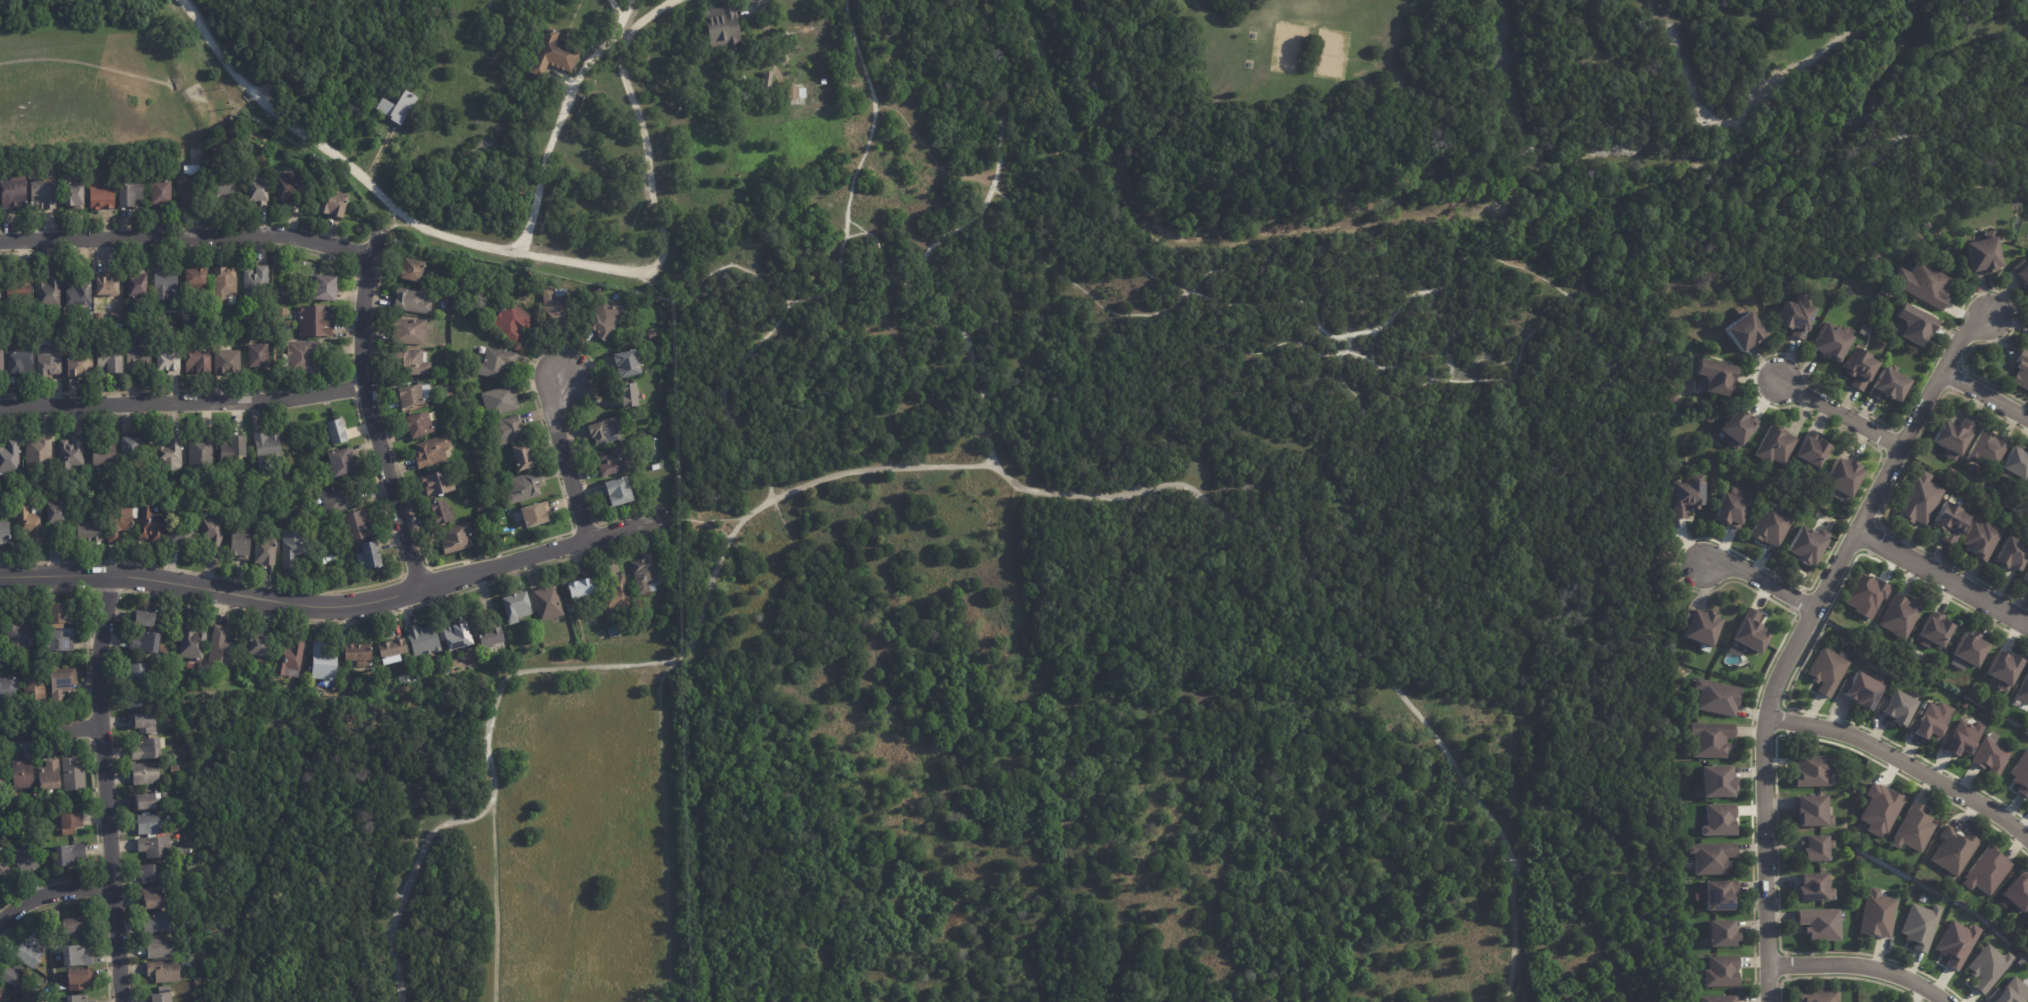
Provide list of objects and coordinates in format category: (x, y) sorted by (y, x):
road: (615, 11)
road: (624, 12)
road: (645, 18)
building: (724, 28)
road: (617, 30)
road: (105, 44)
road: (292, 49)
park: (1311, 52)
building: (554, 56)
building: (740, 77)
park: (107, 78)
building: (767, 85)
building: (794, 96)
building: (398, 104)
road: (1740, 111)
building: (244, 143)
road: (645, 157)
road: (544, 167)
road: (1058, 173)
building: (187, 185)
building: (225, 187)
building: (258, 190)
building: (291, 190)
building: (161, 191)
building: (13, 194)
building: (74, 194)
building: (101, 194)
building: (130, 194)
building: (42, 195)
road: (380, 198)
building: (333, 203)
building: (1928, 224)
road: (388, 227)
road: (1024, 233)
road: (187, 236)
road: (940, 240)
road: (1379, 250)
road: (880, 252)
building: (1982, 253)
building: (1876, 257)
road: (839, 268)
building: (413, 270)
building: (2023, 275)
building: (255, 279)
building: (196, 280)
building: (137, 284)
building: (165, 284)
building: (224, 284)
building: (1922, 284)
building: (19, 286)
building: (107, 286)
building: (325, 288)
building: (49, 292)
building: (287, 292)
building: (79, 294)
building: (448, 294)
road: (705, 300)
building: (412, 301)
building: (447, 302)
building: (555, 303)
building: (282, 312)
building: (1792, 315)
building: (604, 321)
building: (314, 322)
building: (513, 322)
building: (1912, 324)
building: (409, 331)
building: (1743, 331)
building: (651, 335)
building: (1830, 344)
building: (137, 354)
building: (301, 356)
building: (49, 357)
building: (258, 357)
building: (198, 360)
building: (108, 362)
building: (227, 362)
building: (493, 362)
building: (1, 363)
building: (20, 363)
building: (169, 363)
building: (409, 363)
building: (79, 364)
building: (627, 364)
building: (1857, 368)
building: (2018, 368)
building: (1712, 377)
building: (1888, 386)
building: (447, 393)
building: (629, 395)
building: (412, 396)
building: (1672, 397)
road: (1986, 399)
road: (182, 401)
building: (500, 401)
road: (370, 412)
road: (1839, 416)
building: (420, 425)
building: (1735, 429)
building: (598, 430)
building: (337, 431)
building: (507, 431)
building: (1952, 438)
building: (467, 440)
road: (964, 444)
building: (1770, 444)
building: (267, 445)
building: (234, 447)
building: (131, 448)
building: (1805, 449)
building: (1986, 449)
building: (432, 451)
building: (200, 452)
building: (294, 452)
building: (70, 453)
building: (171, 453)
building: (38, 455)
building: (9, 457)
building: (104, 457)
building: (523, 458)
road: (564, 458)
building: (614, 461)
building: (342, 462)
building: (2015, 465)
building: (655, 467)
building: (1841, 477)
building: (485, 481)
building: (438, 483)
building: (524, 488)
road: (769, 489)
building: (145, 492)
building: (619, 492)
road: (773, 493)
building: (2027, 493)
building: (1686, 495)
building: (339, 497)
building: (1916, 499)
road: (772, 505)
building: (1726, 509)
building: (481, 510)
building: (442, 513)
building: (56, 514)
building: (536, 514)
road: (692, 520)
building: (1945, 520)
building: (120, 522)
building: (1766, 523)
building: (29, 525)
building: (151, 525)
building: (355, 526)
building: (89, 530)
park: (1155, 530)
building: (211, 531)
building: (2, 533)
building: (179, 536)
road: (1286, 536)
building: (456, 538)
building: (1979, 540)
building: (1801, 542)
building: (240, 546)
building: (493, 546)
building: (292, 548)
building: (265, 552)
building: (2010, 554)
building: (369, 556)
building: (329, 557)
building: (322, 561)
building: (641, 572)
building: (2025, 577)
road: (1942, 579)
road: (1757, 583)
building: (580, 587)
building: (616, 599)
building: (1878, 599)
building: (547, 601)
building: (516, 605)
road: (330, 606)
building: (572, 606)
building: (61, 613)
building: (1899, 615)
building: (146, 617)
building: (1849, 620)
building: (1700, 626)
building: (1933, 630)
building: (17, 631)
building: (1750, 631)
building: (457, 634)
building: (491, 636)
road: (1800, 636)
building: (423, 639)
building: (144, 641)
building: (191, 641)
building: (60, 642)
building: (259, 643)
building: (220, 646)
building: (1969, 648)
building: (162, 649)
building: (391, 649)
road: (1523, 652)
building: (357, 653)
building: (407, 655)
building: (289, 657)
building: (323, 661)
building: (2002, 668)
building: (1678, 669)
building: (1826, 671)
building: (140, 672)
building: (272, 679)
building: (57, 682)
road: (503, 685)
building: (8, 688)
building: (1856, 688)
building: (2023, 690)
building: (34, 691)
building: (1712, 696)
building: (139, 698)
building: (1892, 706)
building: (1926, 719)
building: (142, 721)
road: (53, 728)
building: (1956, 735)
building: (1709, 738)
road: (977, 742)
building: (146, 748)
building: (1984, 755)
road: (1903, 765)
building: (174, 769)
building: (1811, 769)
building: (2018, 772)
building: (22, 773)
building: (50, 773)
building: (144, 773)
building: (72, 774)
building: (2, 780)
building: (1714, 781)
road: (108, 792)
building: (146, 800)
building: (1879, 809)
building: (1811, 810)
building: (1719, 820)
building: (70, 822)
building: (148, 823)
building: (179, 827)
road: (667, 828)
building: (1913, 828)
building: (155, 846)
building: (1813, 847)
building: (1953, 850)
building: (69, 854)
building: (1711, 857)
building: (1858, 858)
building: (24, 859)
building: (5, 870)
building: (1986, 871)
building: (151, 873)
building: (1812, 888)
building: (2017, 892)
road: (50, 893)
building: (1719, 894)
road: (492, 898)
building: (154, 900)
building: (1876, 914)
building: (43, 919)
building: (159, 922)
building: (1819, 923)
building: (2026, 923)
building: (1919, 925)
building: (73, 926)
building: (1720, 933)
building: (1956, 943)
building: (158, 948)
building: (28, 952)
building: (76, 955)
road: (1856, 967)
building: (1986, 967)
building: (163, 970)
building: (1721, 971)
building: (10, 975)
building: (77, 979)
building: (2, 989)
building: (2010, 991)
building: (1818, 996)
building: (161, 997)
building: (76, 998)
building: (1719, 999)

